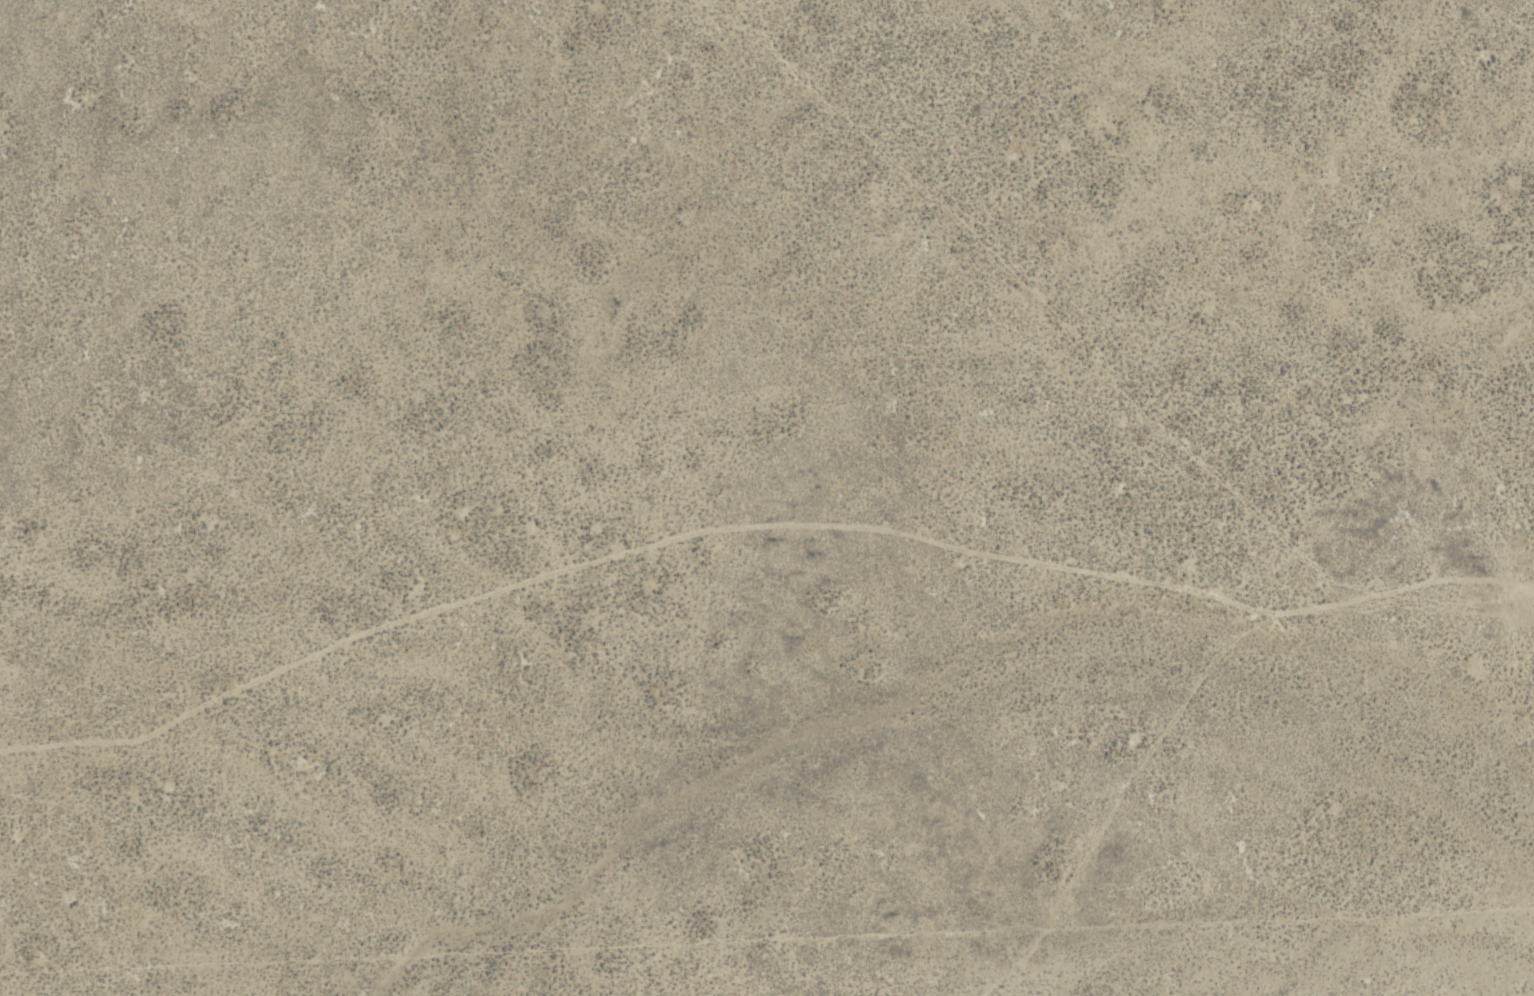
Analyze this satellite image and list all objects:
road: (753, 529)

